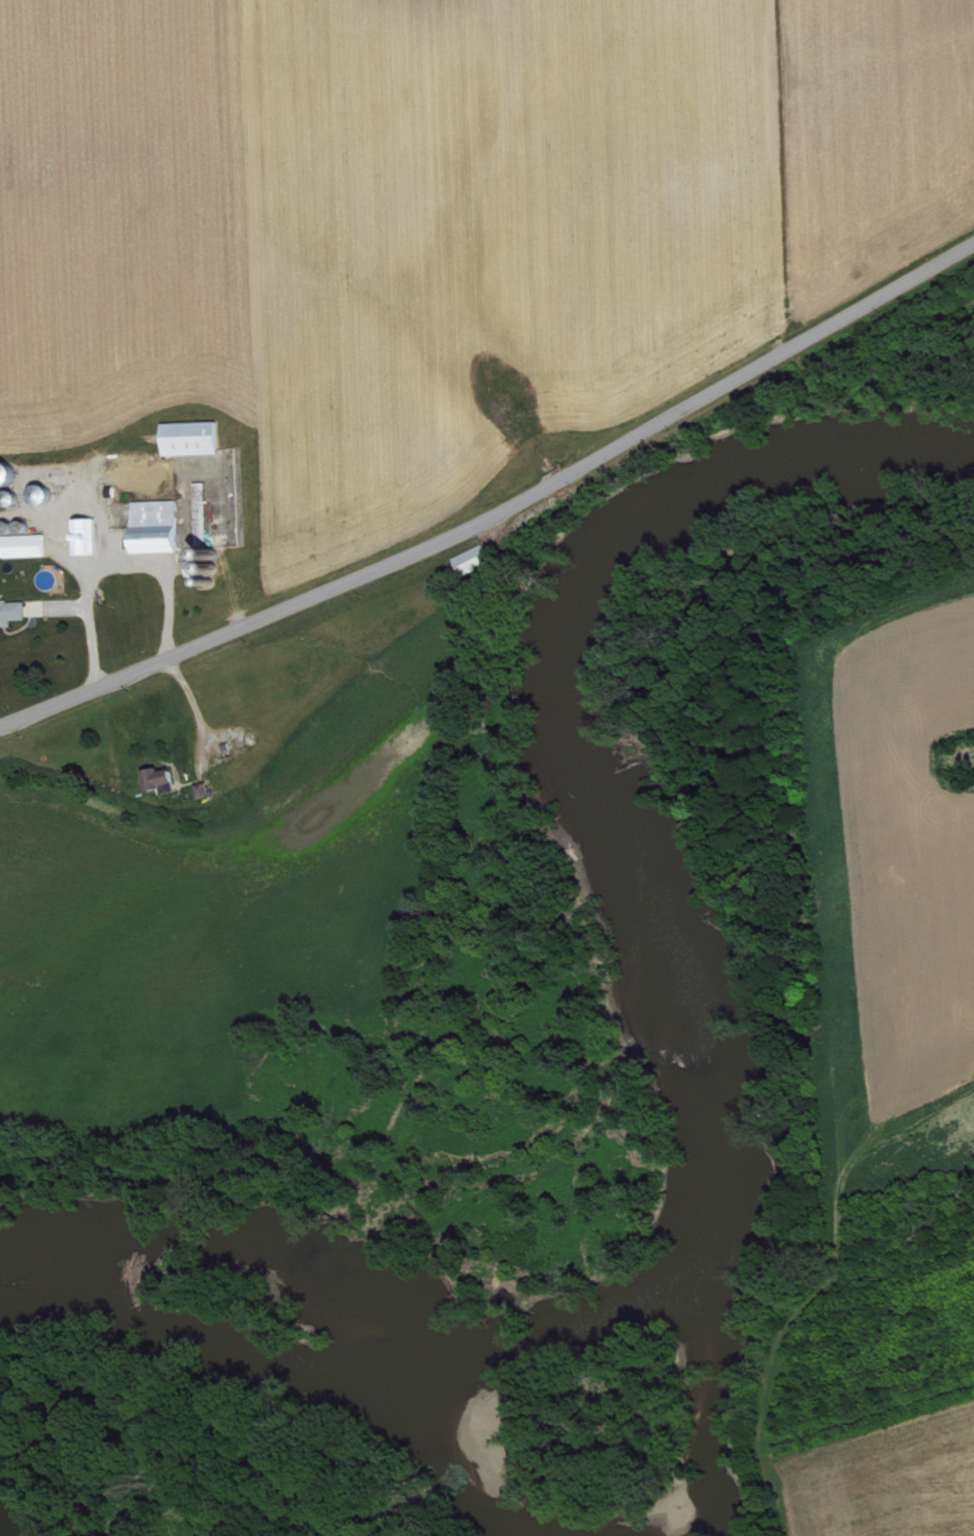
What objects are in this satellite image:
building: (195, 446)
building: (10, 481)
road: (501, 512)
road: (52, 530)
building: (161, 534)
building: (89, 544)
building: (206, 545)
building: (28, 553)
building: (478, 567)
road: (110, 569)
building: (14, 619)
road: (191, 708)
building: (166, 788)
building: (208, 798)
river: (722, 1086)

